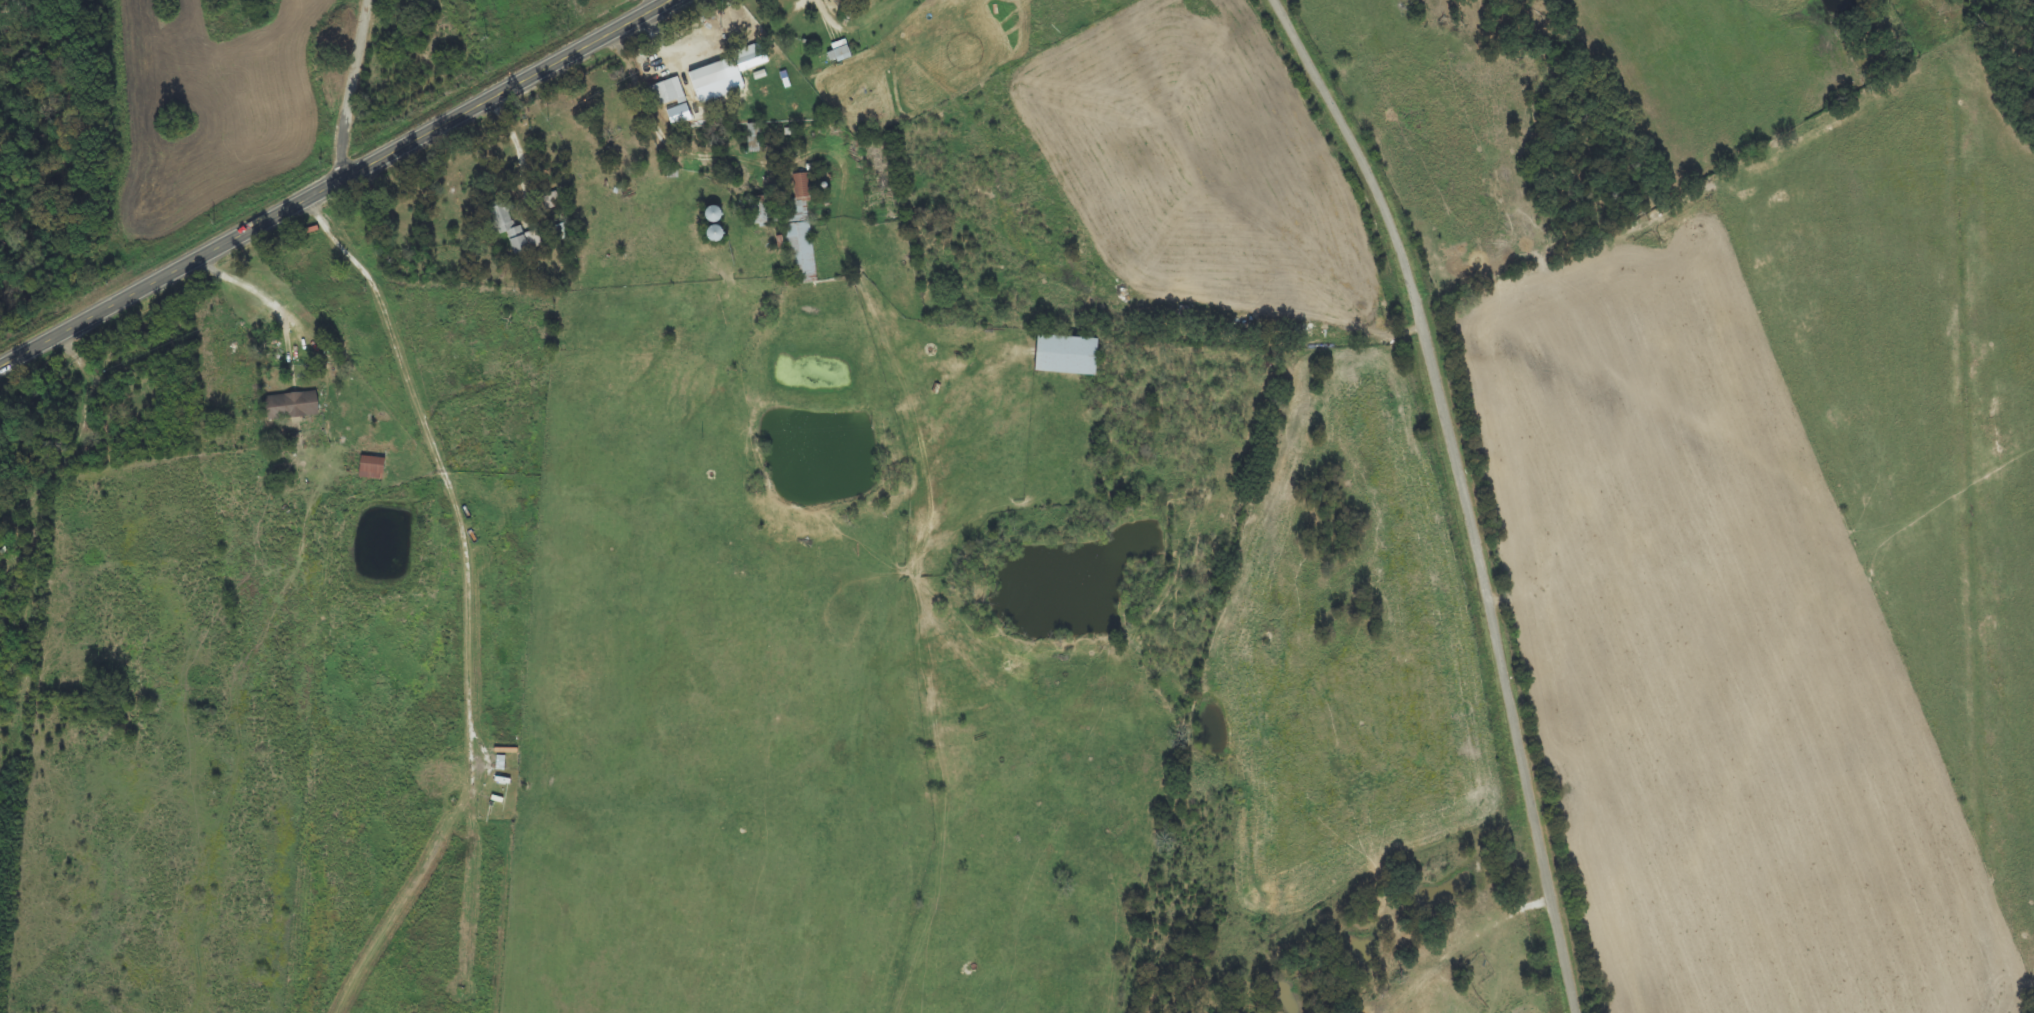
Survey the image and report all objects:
power tower: (722, 29)
power tower: (487, 37)
building: (839, 55)
building: (710, 83)
road: (352, 93)
building: (667, 93)
building: (678, 116)
power tower: (547, 119)
road: (338, 183)
building: (801, 186)
building: (760, 207)
building: (507, 226)
building: (801, 251)
building: (1065, 356)
building: (291, 407)
building: (371, 469)
road: (1471, 492)

